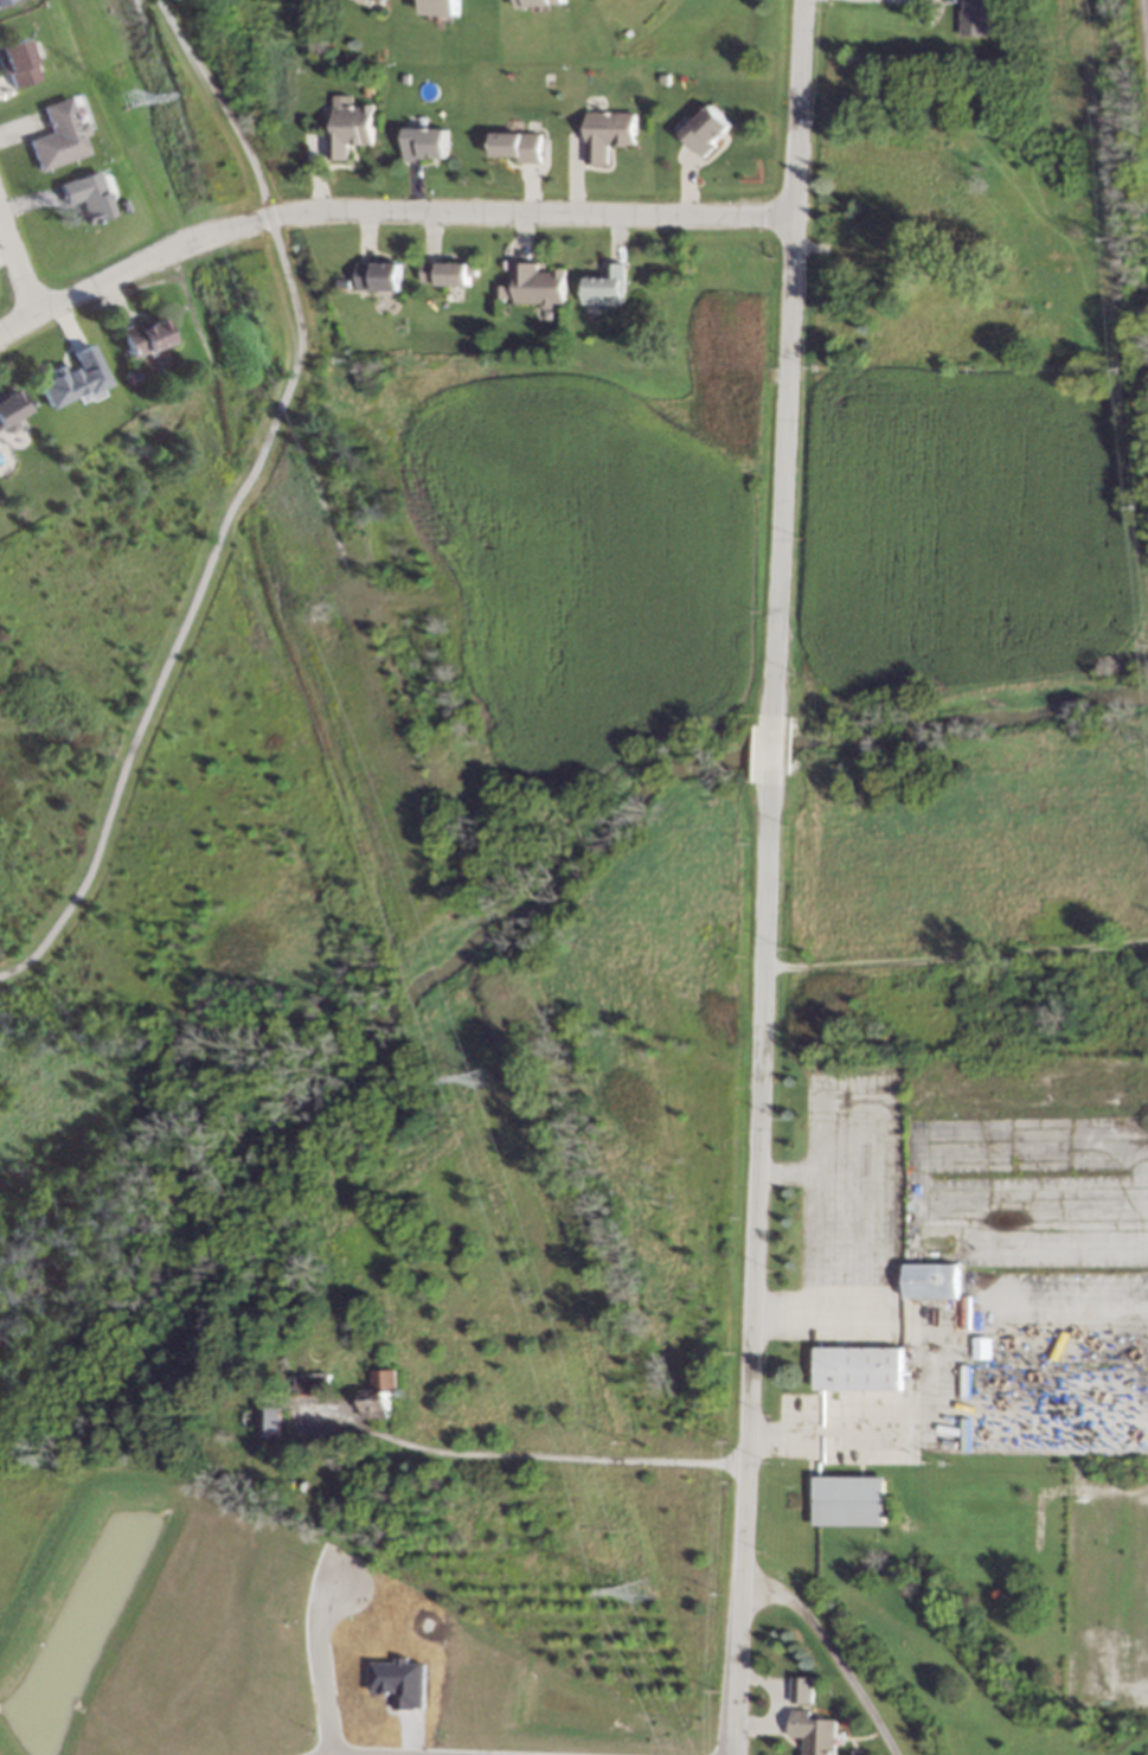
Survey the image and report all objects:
building: (2, 0)
building: (365, 1)
building: (381, 1)
building: (538, 2)
building: (442, 7)
building: (973, 18)
building: (15, 63)
building: (405, 76)
building: (665, 78)
building: (549, 79)
road: (795, 107)
building: (349, 129)
building: (706, 130)
building: (607, 133)
building: (57, 135)
building: (425, 143)
building: (517, 146)
building: (85, 194)
building: (903, 198)
road: (528, 211)
building: (974, 239)
road: (18, 258)
road: (129, 267)
building: (447, 273)
building: (377, 276)
building: (537, 283)
building: (604, 286)
building: (500, 292)
building: (143, 335)
building: (133, 374)
building: (72, 378)
building: (8, 411)
road: (783, 469)
road: (238, 500)
park: (966, 713)
park: (617, 723)
road: (774, 749)
park: (464, 875)
river: (537, 905)
park: (197, 960)
road: (765, 961)
road: (816, 1244)
building: (931, 1281)
building: (284, 1364)
building: (857, 1369)
building: (312, 1383)
building: (378, 1395)
building: (271, 1415)
road: (780, 1437)
road: (746, 1452)
road: (525, 1456)
building: (847, 1501)
road: (833, 1653)
building: (403, 1680)
building: (803, 1689)
building: (813, 1734)
road: (499, 1748)

